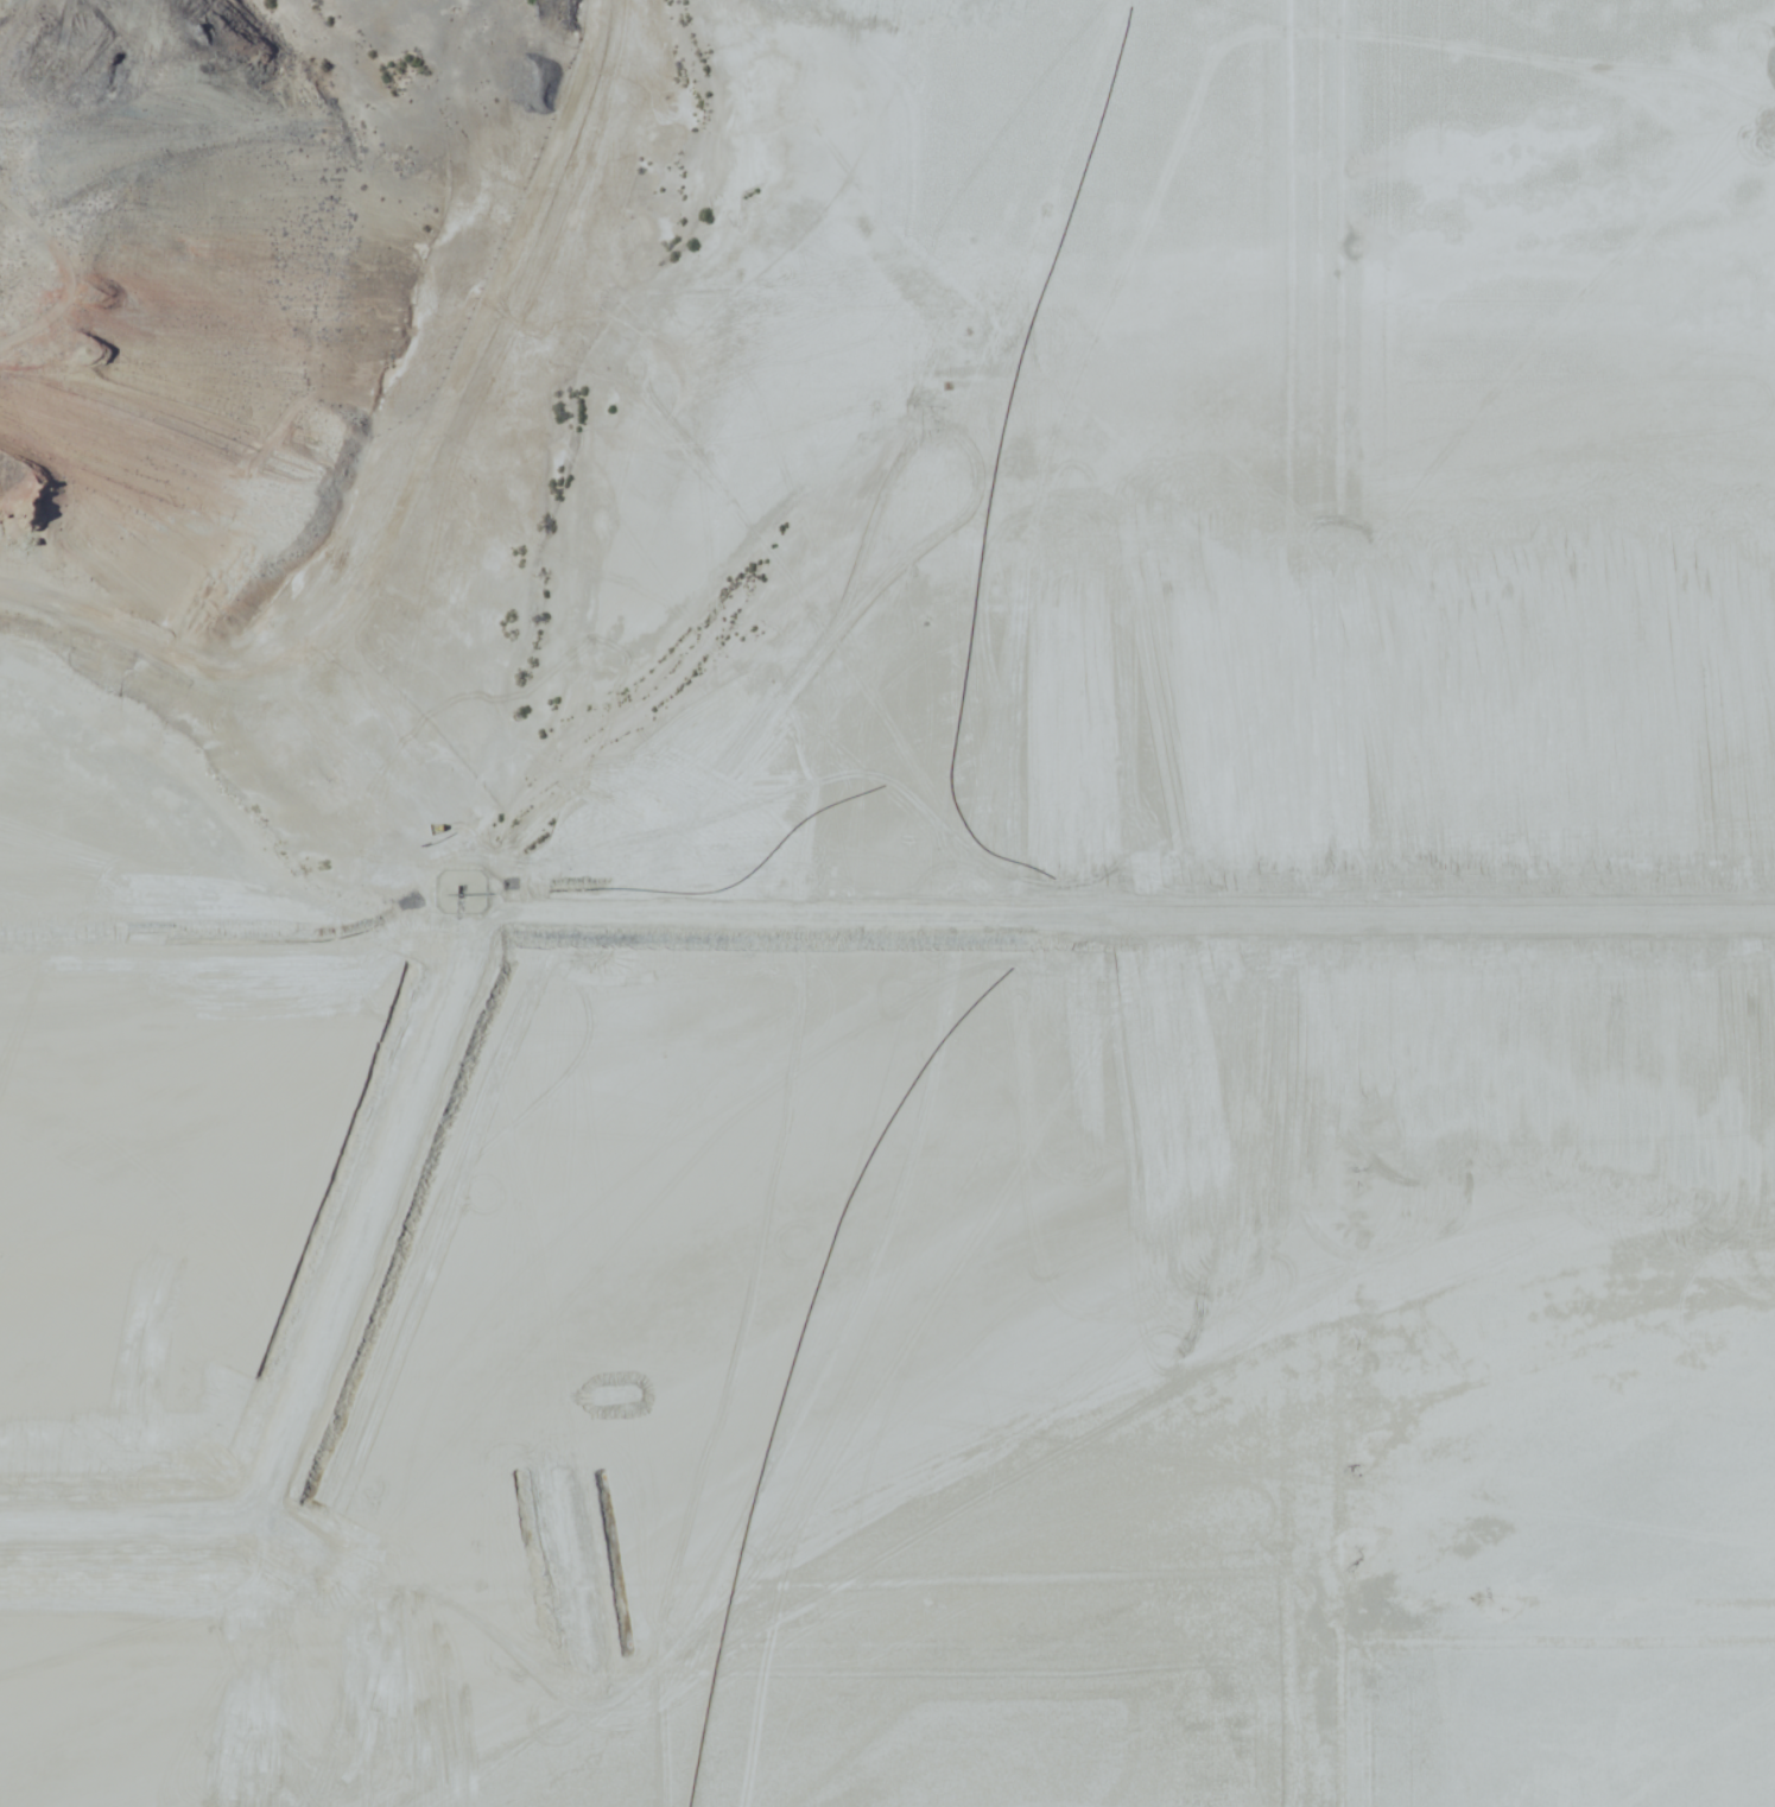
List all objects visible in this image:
road: (402, 481)

